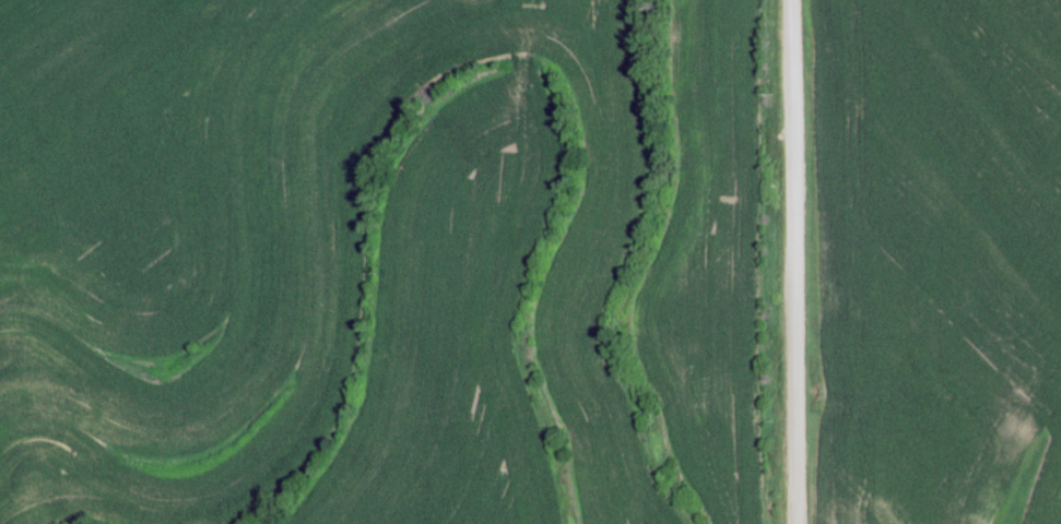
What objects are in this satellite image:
road: (775, 262)

